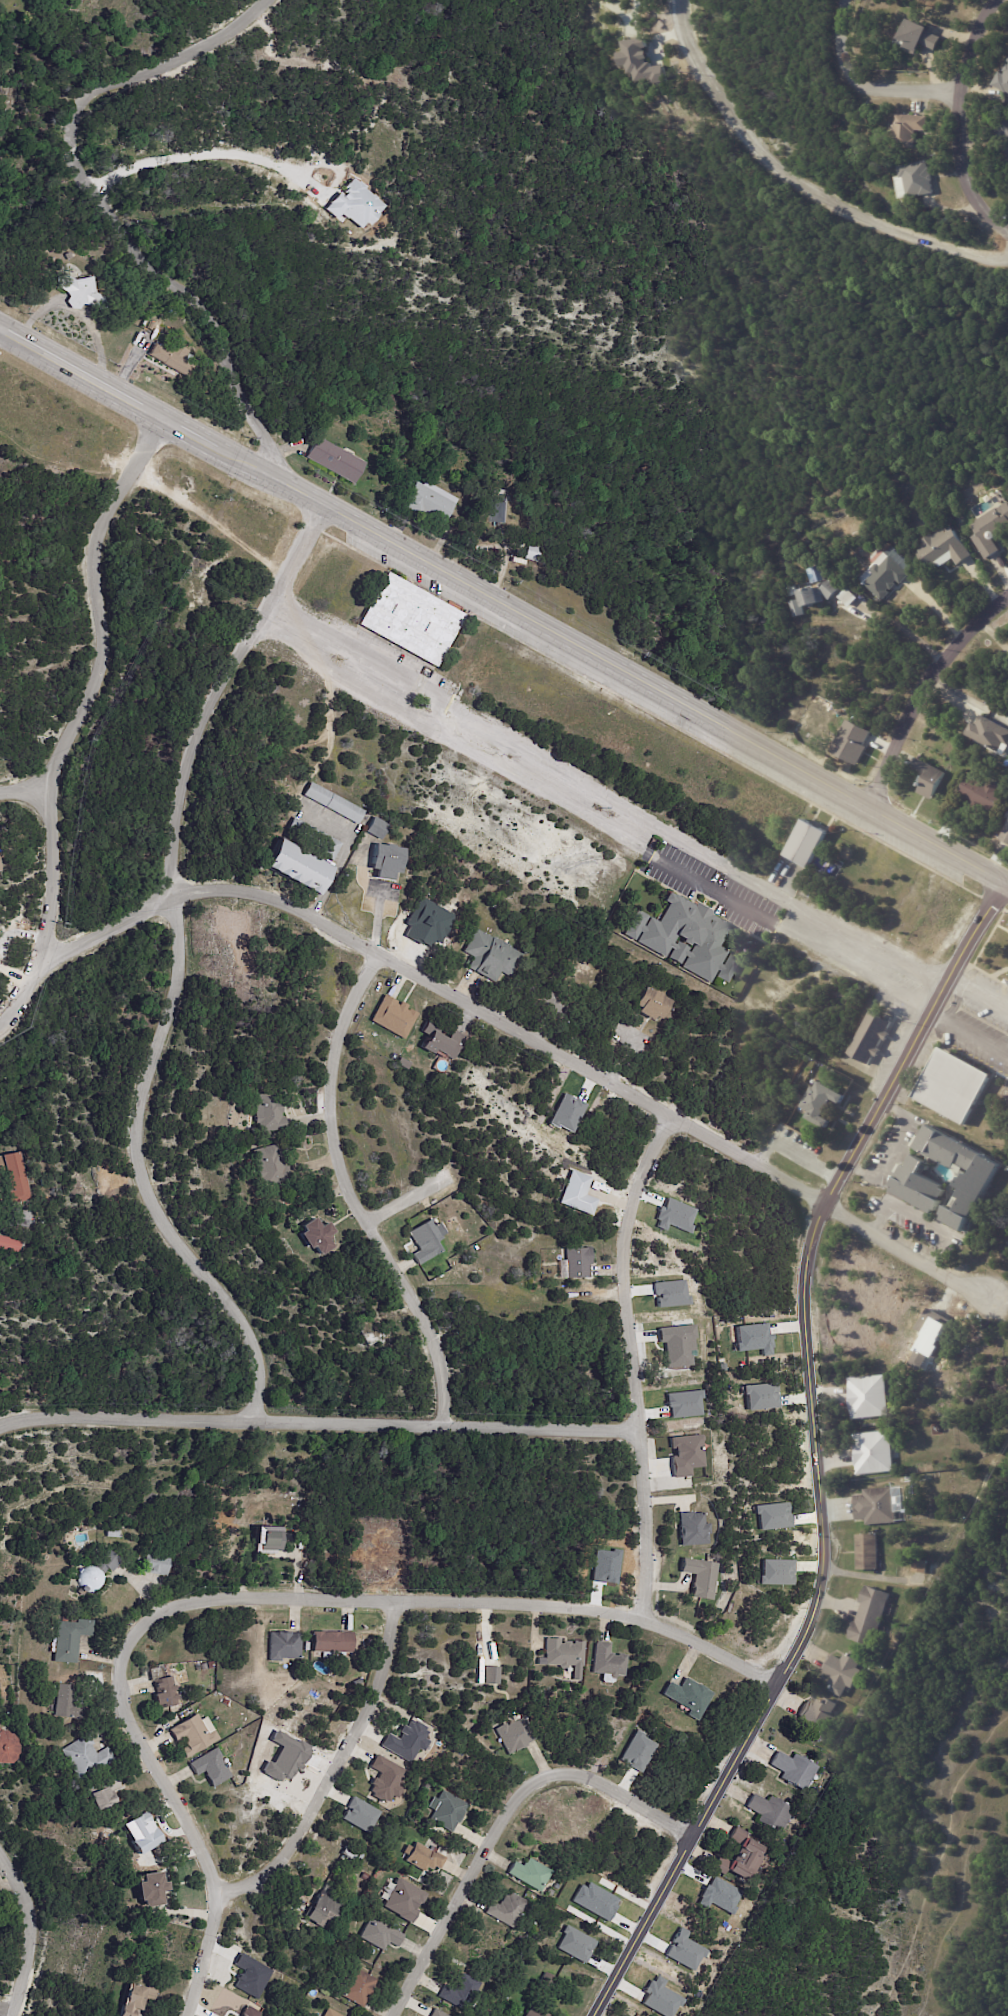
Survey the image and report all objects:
building: (923, 35)
building: (641, 61)
building: (1007, 70)
building: (1003, 81)
road: (865, 85)
road: (963, 118)
building: (911, 129)
building: (1004, 130)
road: (195, 154)
building: (921, 178)
road: (801, 182)
building: (355, 204)
road: (104, 210)
building: (80, 292)
building: (151, 326)
building: (171, 358)
building: (335, 461)
building: (431, 503)
building: (503, 511)
building: (993, 532)
building: (947, 549)
building: (535, 553)
building: (887, 577)
building: (823, 595)
road: (500, 596)
building: (850, 598)
building: (800, 609)
road: (87, 618)
building: (412, 621)
road: (913, 634)
road: (935, 696)
building: (989, 733)
building: (851, 741)
building: (932, 779)
road: (599, 793)
building: (987, 794)
building: (334, 804)
road: (586, 816)
building: (1007, 817)
building: (378, 830)
building: (1006, 838)
building: (315, 839)
building: (810, 845)
building: (388, 863)
building: (300, 870)
road: (46, 873)
road: (1000, 880)
road: (333, 881)
road: (376, 923)
road: (964, 932)
building: (687, 937)
building: (491, 956)
road: (173, 957)
building: (587, 974)
road: (21, 977)
building: (653, 1003)
road: (966, 1003)
building: (395, 1017)
road: (1001, 1021)
road: (967, 1033)
road: (521, 1037)
building: (873, 1037)
building: (443, 1041)
building: (404, 1063)
building: (804, 1074)
building: (956, 1087)
building: (825, 1103)
building: (269, 1113)
building: (781, 1127)
building: (267, 1135)
road: (893, 1149)
building: (269, 1165)
building: (16, 1178)
building: (917, 1181)
road: (347, 1189)
building: (576, 1192)
road: (394, 1201)
road: (907, 1205)
building: (318, 1236)
building: (428, 1241)
building: (11, 1244)
road: (939, 1244)
building: (578, 1263)
building: (676, 1344)
road: (638, 1358)
building: (760, 1396)
building: (867, 1396)
road: (318, 1411)
building: (873, 1451)
building: (685, 1454)
building: (879, 1504)
road: (823, 1514)
building: (695, 1530)
building: (92, 1535)
building: (65, 1540)
building: (272, 1542)
building: (869, 1550)
building: (156, 1565)
building: (922, 1566)
building: (97, 1573)
building: (702, 1578)
road: (252, 1597)
building: (872, 1615)
building: (70, 1638)
building: (334, 1641)
building: (285, 1645)
building: (566, 1654)
building: (610, 1662)
building: (211, 1665)
building: (204, 1666)
building: (198, 1668)
building: (845, 1671)
building: (490, 1674)
building: (330, 1675)
building: (165, 1692)
building: (691, 1696)
building: (64, 1700)
building: (225, 1702)
building: (819, 1717)
building: (195, 1734)
building: (517, 1734)
building: (406, 1740)
building: (8, 1746)
building: (87, 1758)
building: (211, 1767)
road: (318, 1769)
building: (796, 1769)
building: (385, 1778)
building: (426, 1787)
building: (104, 1791)
road: (493, 1808)
building: (448, 1811)
building: (772, 1812)
building: (359, 1815)
building: (142, 1832)
building: (350, 1853)
building: (744, 1855)
building: (426, 1857)
building: (531, 1873)
building: (367, 1877)
building: (153, 1889)
building: (403, 1899)
building: (327, 1908)
building: (508, 1909)
building: (534, 1924)
road: (25, 1929)
building: (381, 1935)
building: (575, 1944)
building: (250, 1976)
building: (554, 1978)
building: (359, 1987)
building: (461, 1992)
building: (139, 2001)
road: (4, 2005)
building: (331, 2013)
building: (439, 2013)
building: (535, 2013)
building: (320, 2015)

